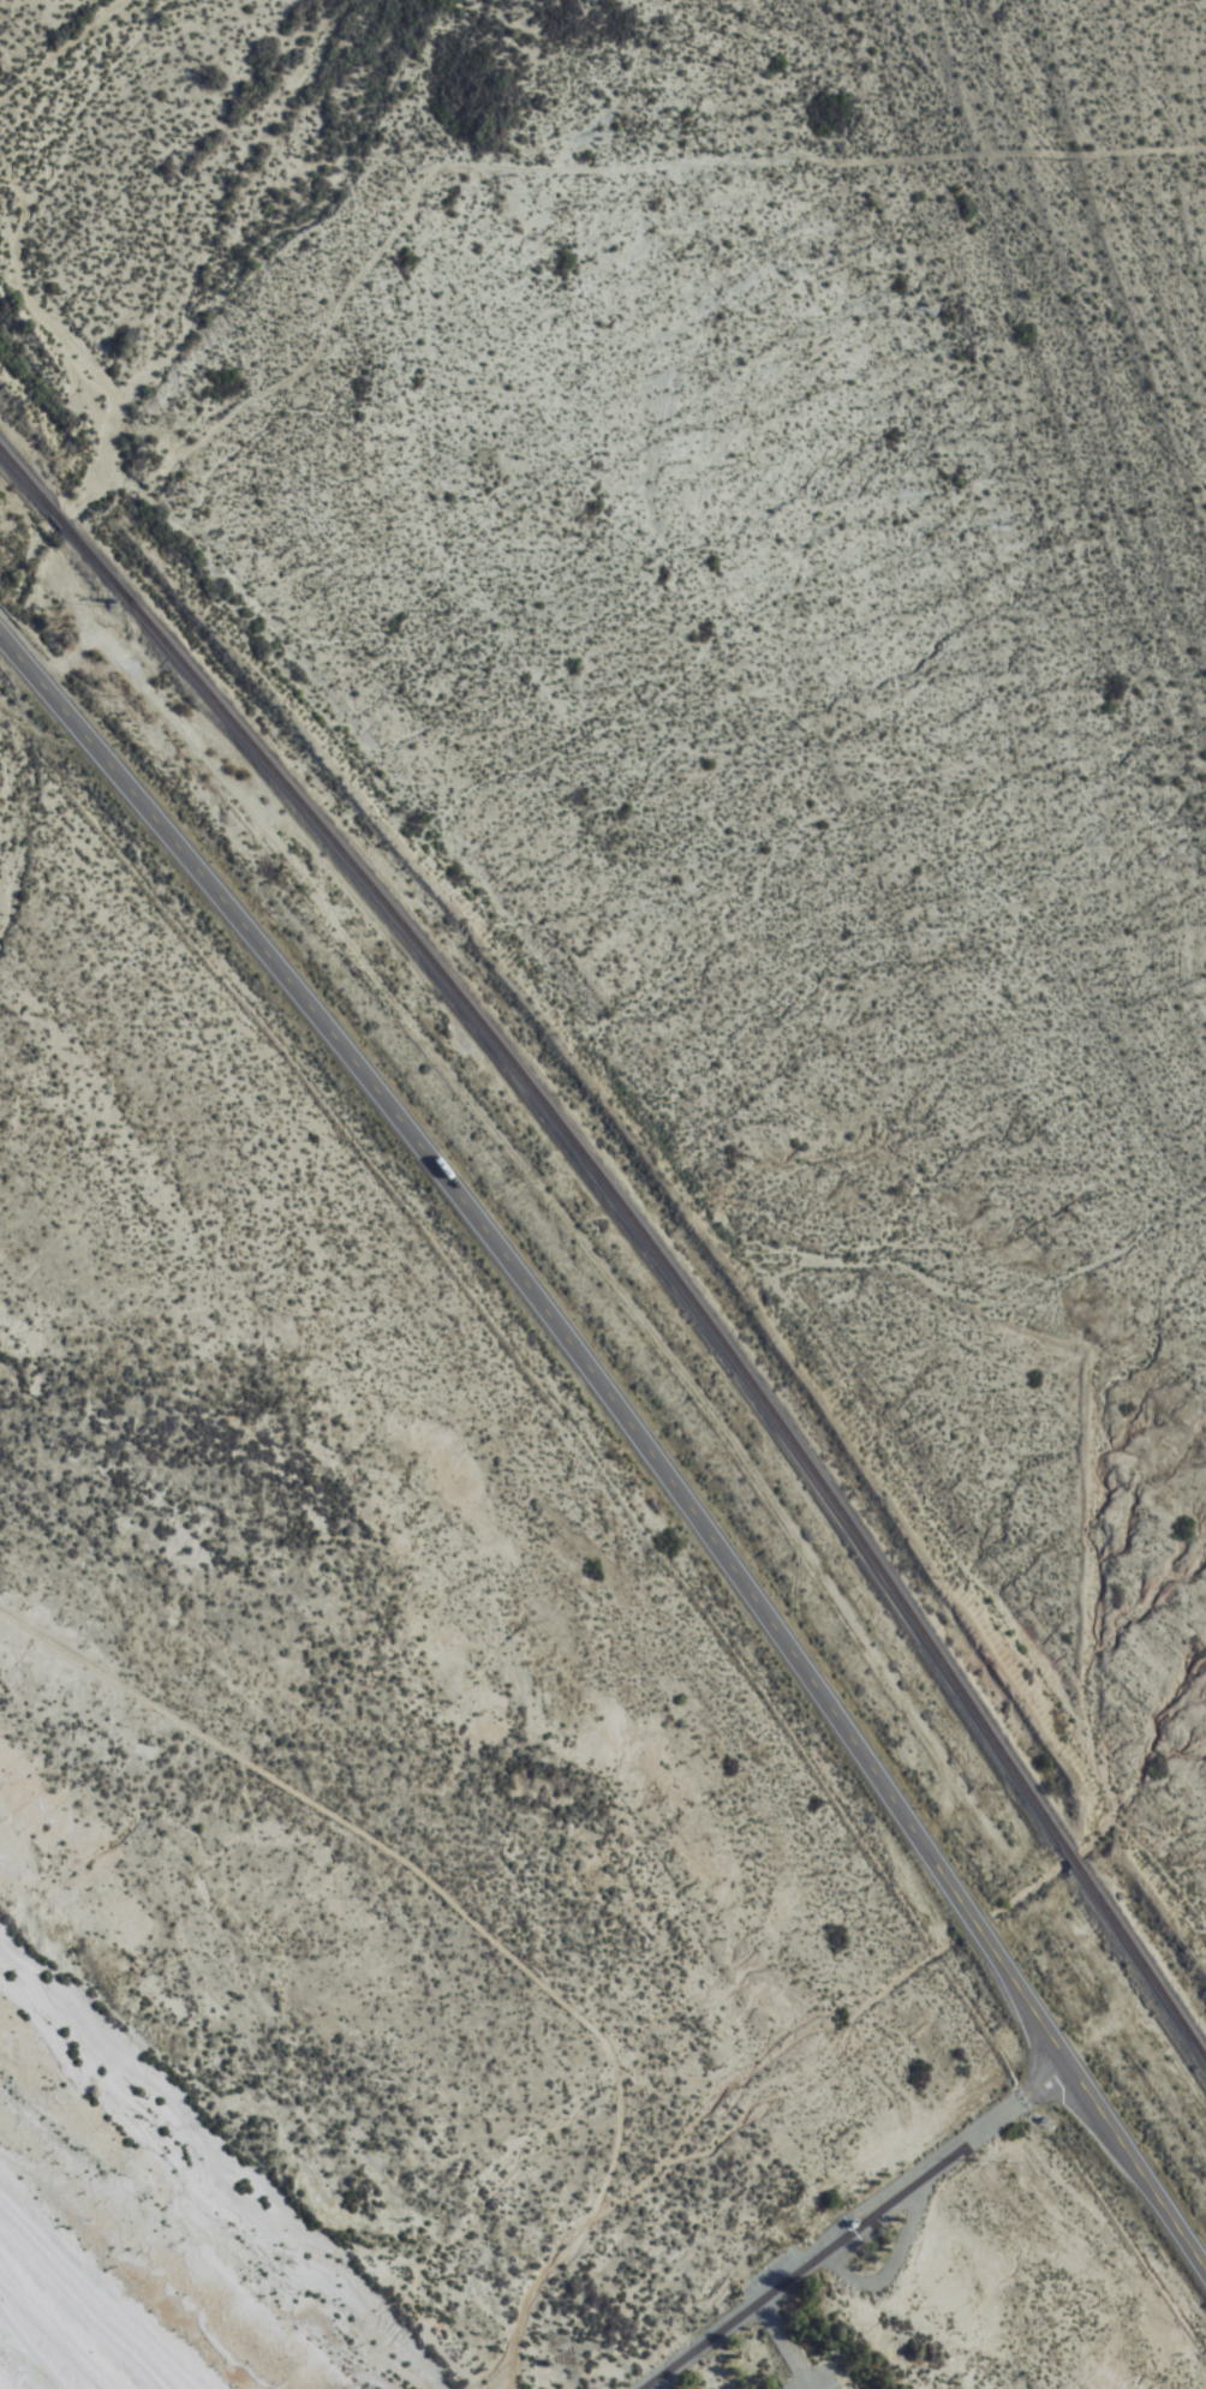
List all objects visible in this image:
railway: (25, 476)
railway: (59, 514)
railway: (596, 1165)
road: (511, 1258)
railway: (1070, 1858)
road: (973, 1923)
railway: (1140, 1961)
road: (1091, 2102)
road: (848, 2224)
road: (776, 2343)
road: (645, 2385)

